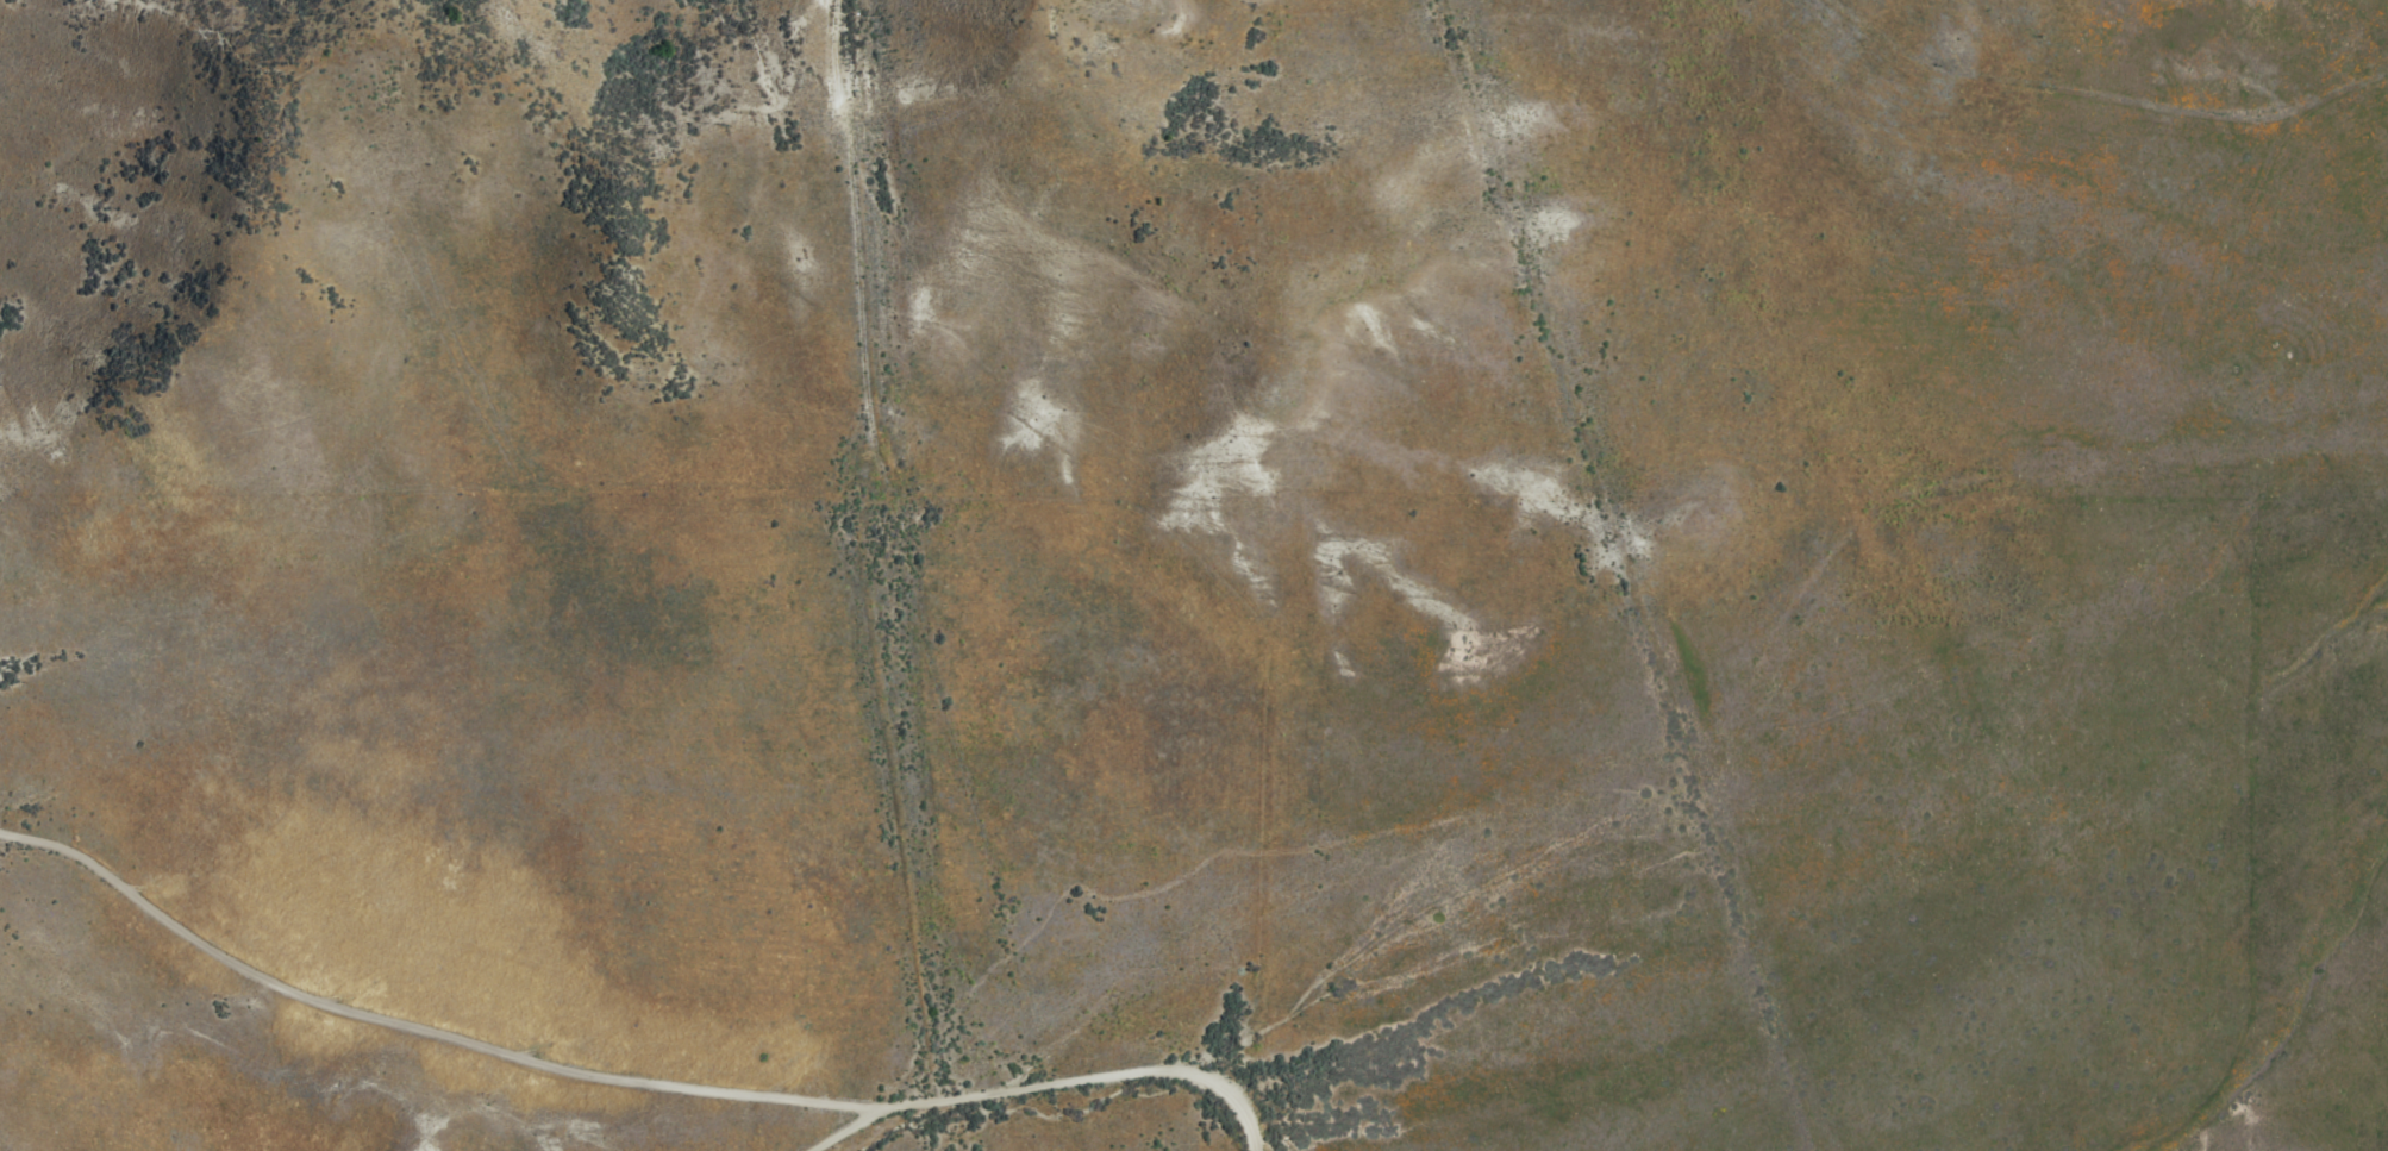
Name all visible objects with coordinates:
road: (856, 190)
road: (423, 1021)
road: (1100, 1086)
road: (850, 1128)

